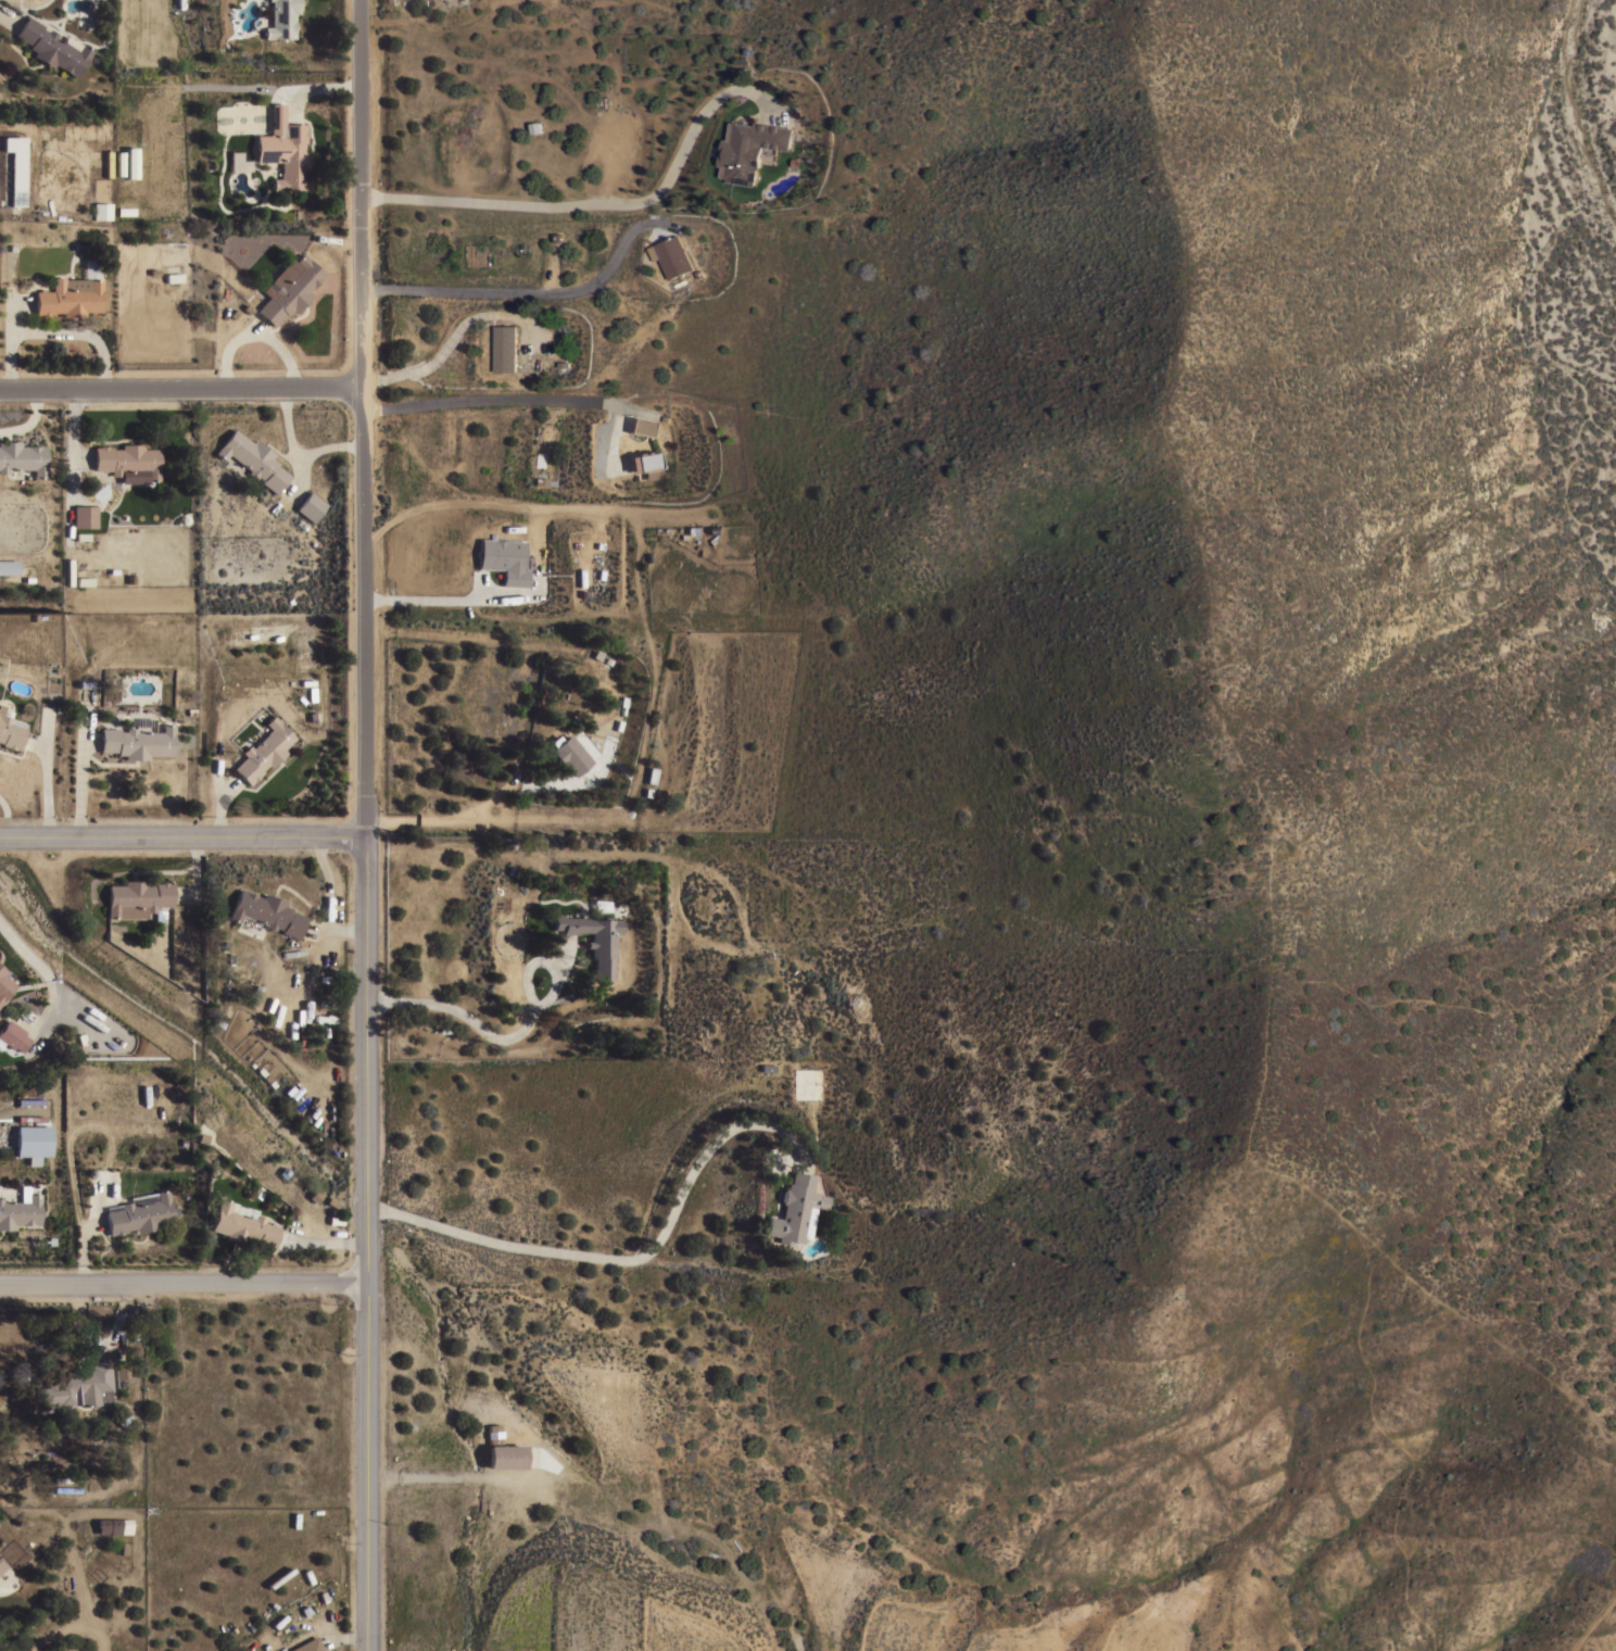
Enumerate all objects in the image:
road: (7, 18)
building: (281, 18)
building: (51, 47)
building: (749, 148)
building: (283, 150)
building: (238, 162)
building: (124, 164)
building: (13, 168)
road: (598, 202)
building: (101, 211)
building: (671, 255)
building: (286, 289)
road: (533, 292)
building: (72, 293)
road: (254, 332)
road: (78, 333)
road: (10, 339)
building: (505, 348)
road: (286, 388)
road: (481, 402)
road: (29, 421)
building: (641, 426)
road: (73, 439)
building: (22, 457)
building: (127, 459)
building: (253, 459)
road: (295, 463)
building: (645, 463)
building: (542, 480)
building: (311, 506)
building: (84, 516)
building: (504, 559)
building: (9, 566)
road: (453, 600)
building: (11, 731)
building: (137, 742)
road: (38, 746)
building: (263, 751)
building: (570, 755)
road: (45, 774)
building: (651, 774)
road: (83, 776)
road: (465, 812)
road: (222, 814)
road: (5, 817)
road: (365, 824)
road: (182, 835)
road: (327, 890)
building: (137, 898)
building: (601, 904)
building: (265, 912)
road: (345, 930)
building: (594, 940)
road: (41, 971)
building: (4, 985)
road: (518, 1034)
building: (13, 1035)
building: (33, 1143)
building: (20, 1209)
building: (793, 1210)
building: (140, 1214)
building: (242, 1224)
road: (623, 1261)
road: (182, 1283)
building: (122, 1372)
building: (78, 1385)
building: (492, 1434)
building: (505, 1455)
road: (455, 1476)
building: (113, 1525)
building: (1, 1565)
building: (307, 1646)
building: (327, 1650)

